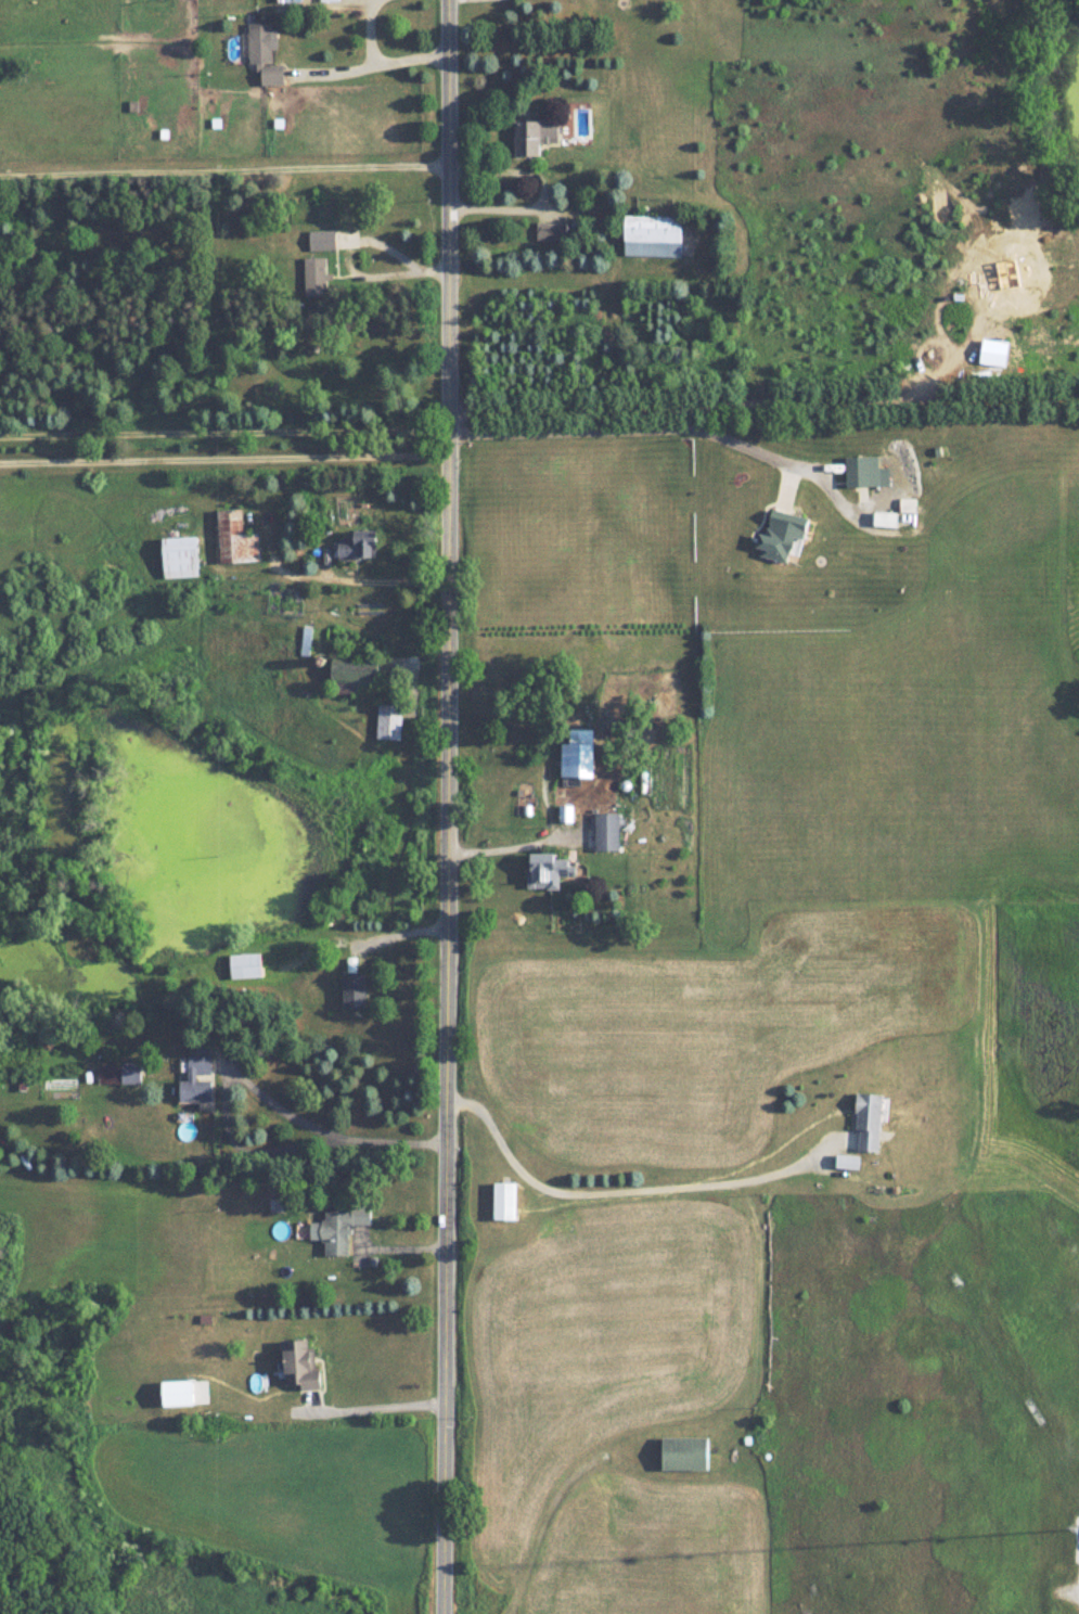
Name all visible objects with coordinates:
road: (341, 0)
road: (371, 33)
building: (265, 54)
road: (373, 65)
building: (538, 134)
road: (222, 169)
road: (542, 190)
building: (658, 227)
building: (552, 231)
building: (323, 240)
road: (393, 253)
building: (317, 277)
road: (663, 430)
road: (222, 434)
road: (221, 457)
building: (864, 472)
building: (786, 535)
building: (236, 539)
building: (361, 547)
building: (182, 558)
road: (355, 581)
building: (306, 640)
building: (388, 721)
building: (581, 755)
building: (661, 790)
road: (442, 806)
building: (607, 832)
road: (547, 838)
building: (547, 871)
road: (354, 941)
building: (245, 966)
building: (355, 991)
building: (119, 1075)
building: (200, 1081)
road: (249, 1083)
building: (874, 1124)
road: (616, 1174)
building: (506, 1203)
building: (342, 1230)
building: (300, 1366)
road: (382, 1399)
building: (686, 1455)

